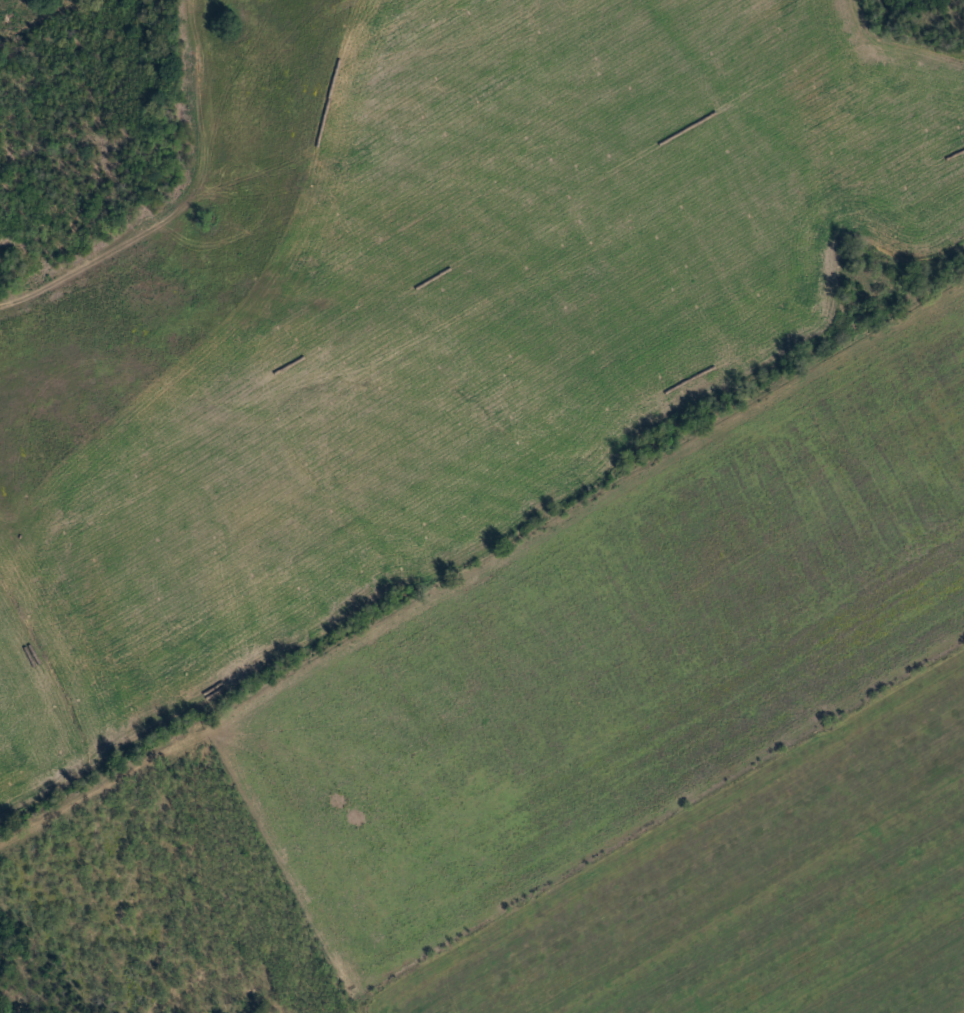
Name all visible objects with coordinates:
road: (899, 33)
road: (255, 254)

